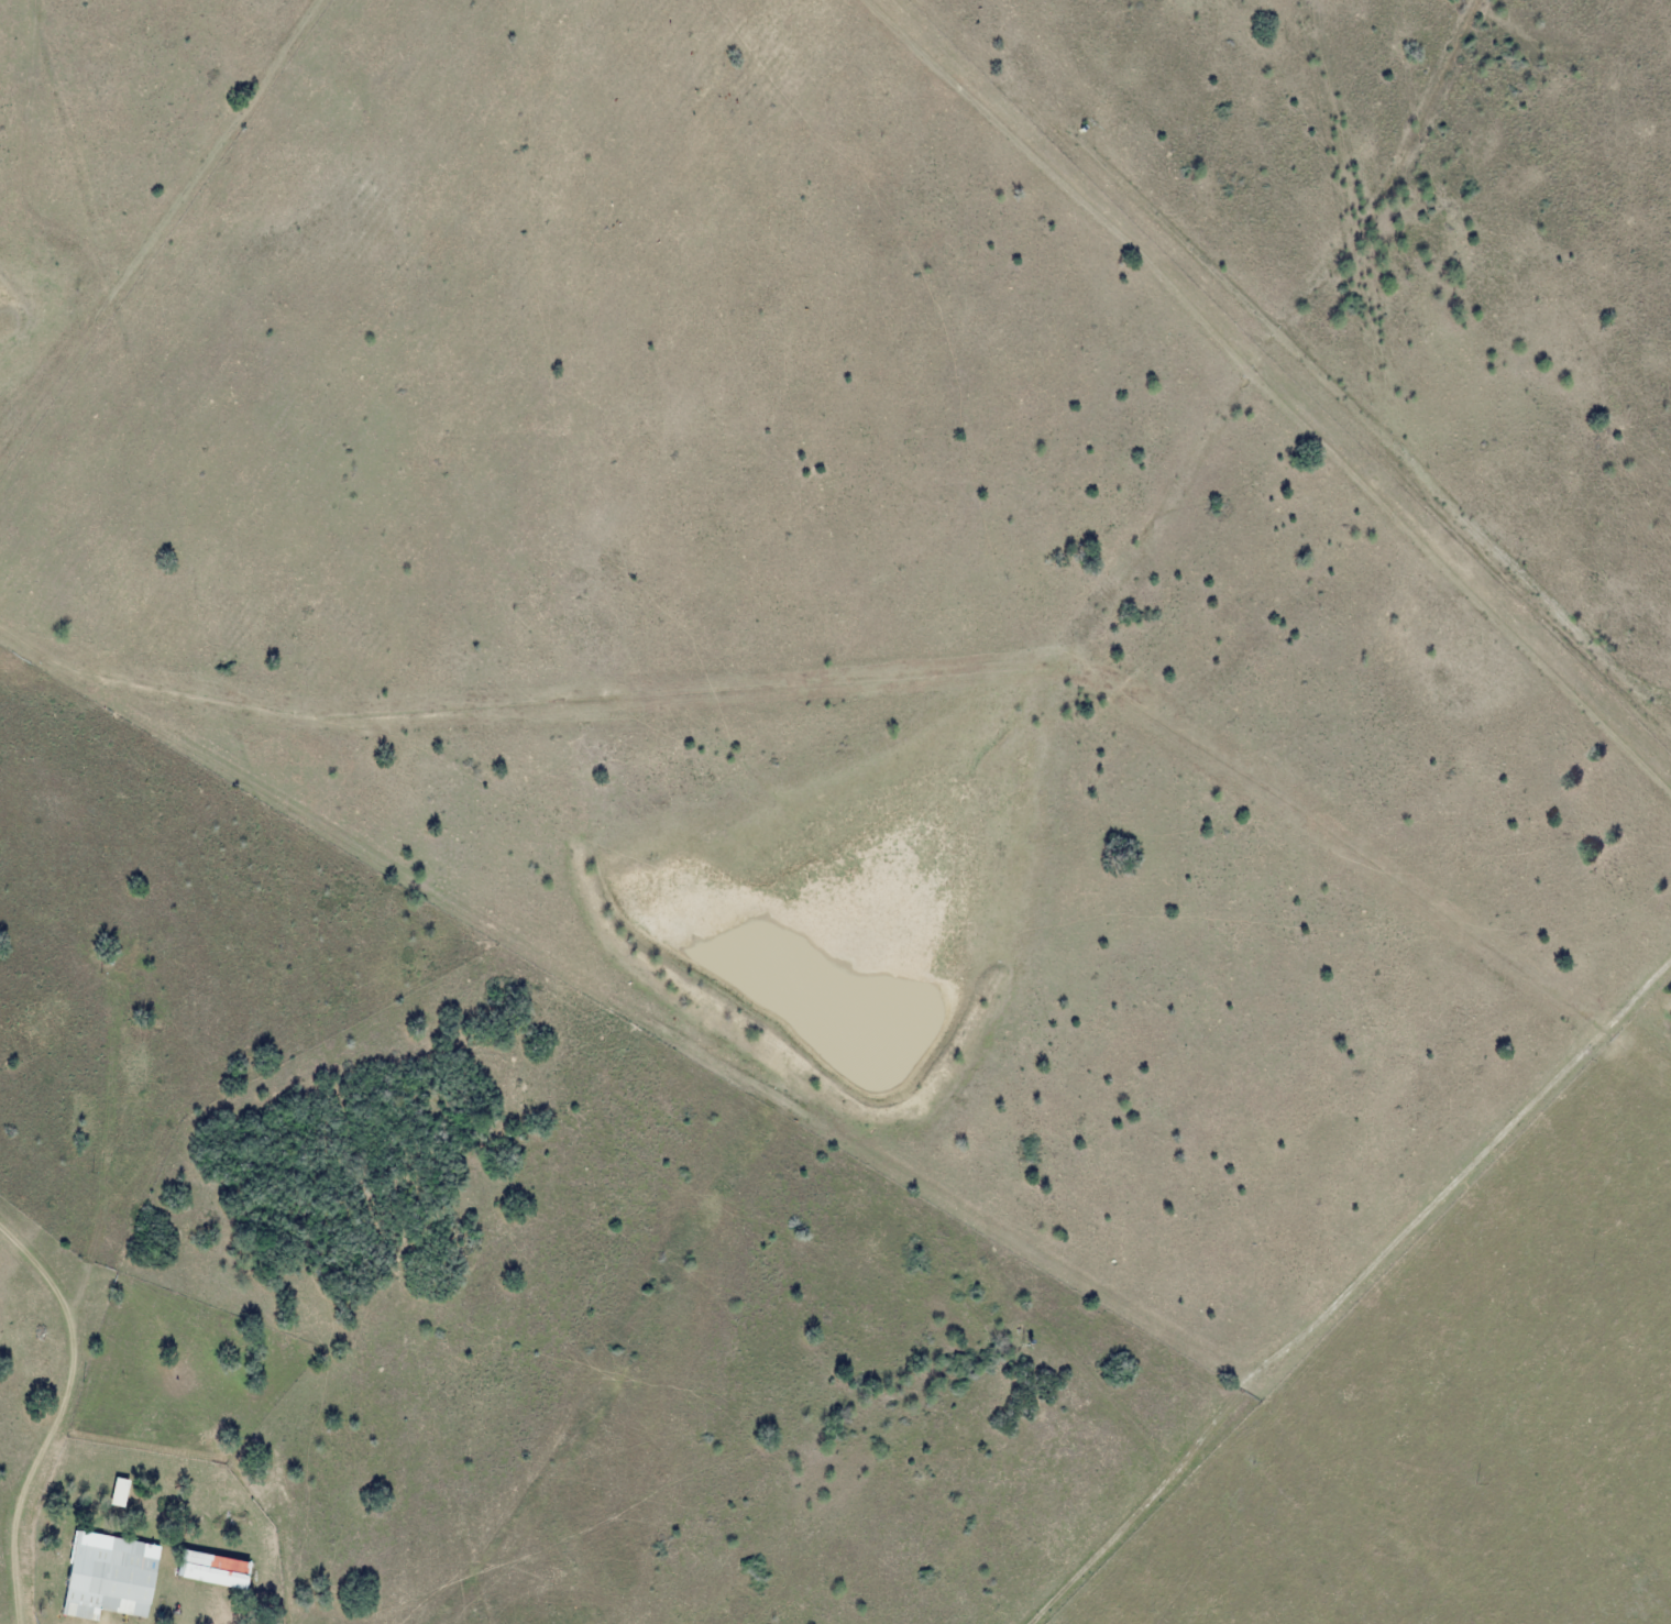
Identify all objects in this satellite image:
building: (119, 1491)
building: (215, 1568)
building: (108, 1574)

